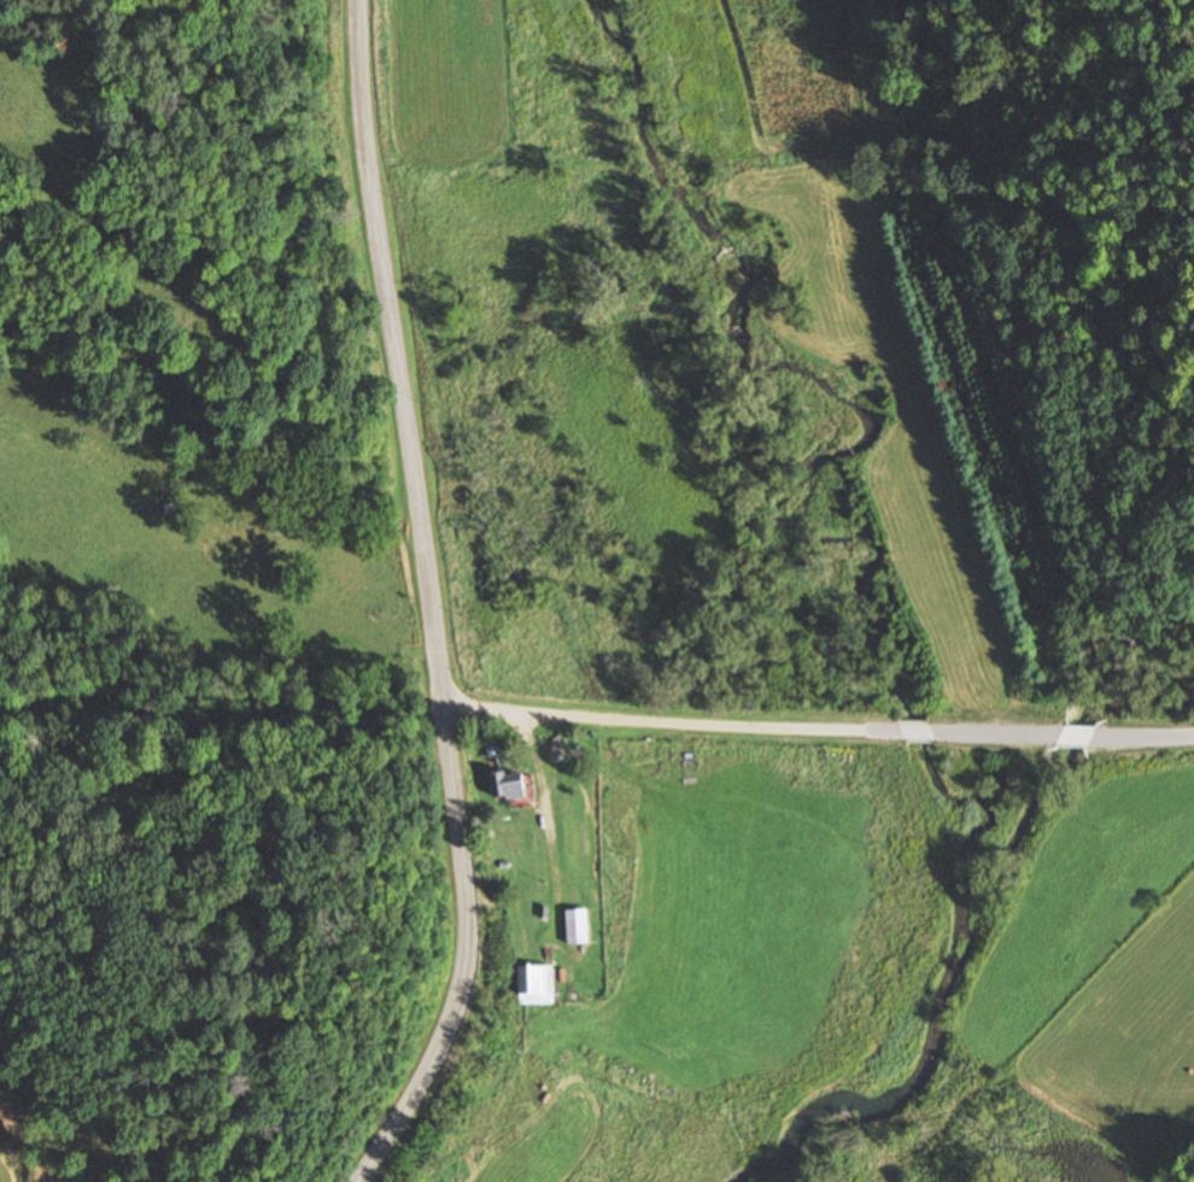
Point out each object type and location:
road: (425, 603)
road: (651, 718)
road: (919, 728)
road: (1083, 733)
building: (513, 786)
building: (578, 929)
building: (538, 988)
road: (22, 1147)

